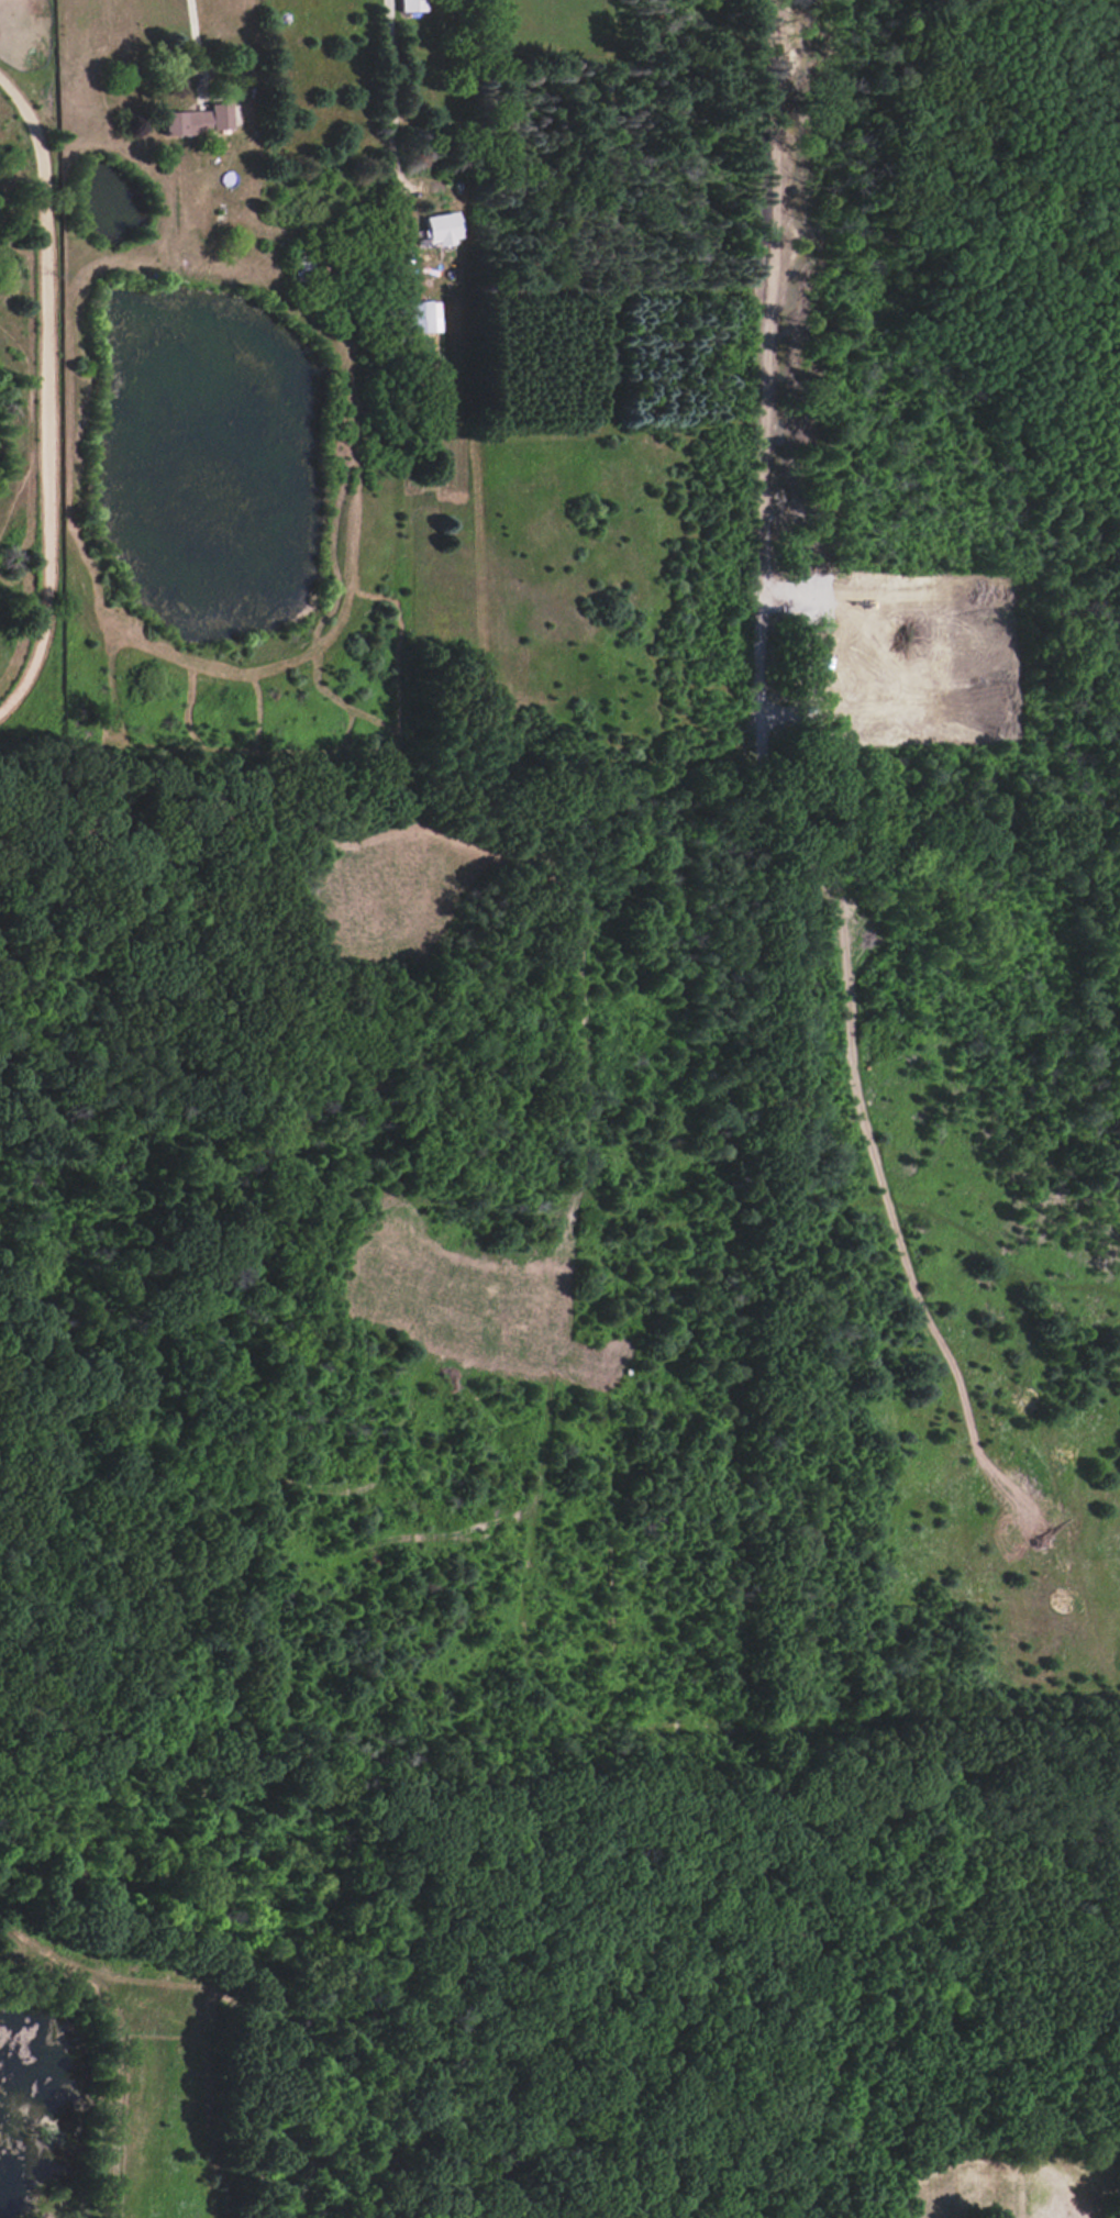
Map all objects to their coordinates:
road: (196, 47)
road: (388, 108)
building: (197, 120)
building: (422, 315)

